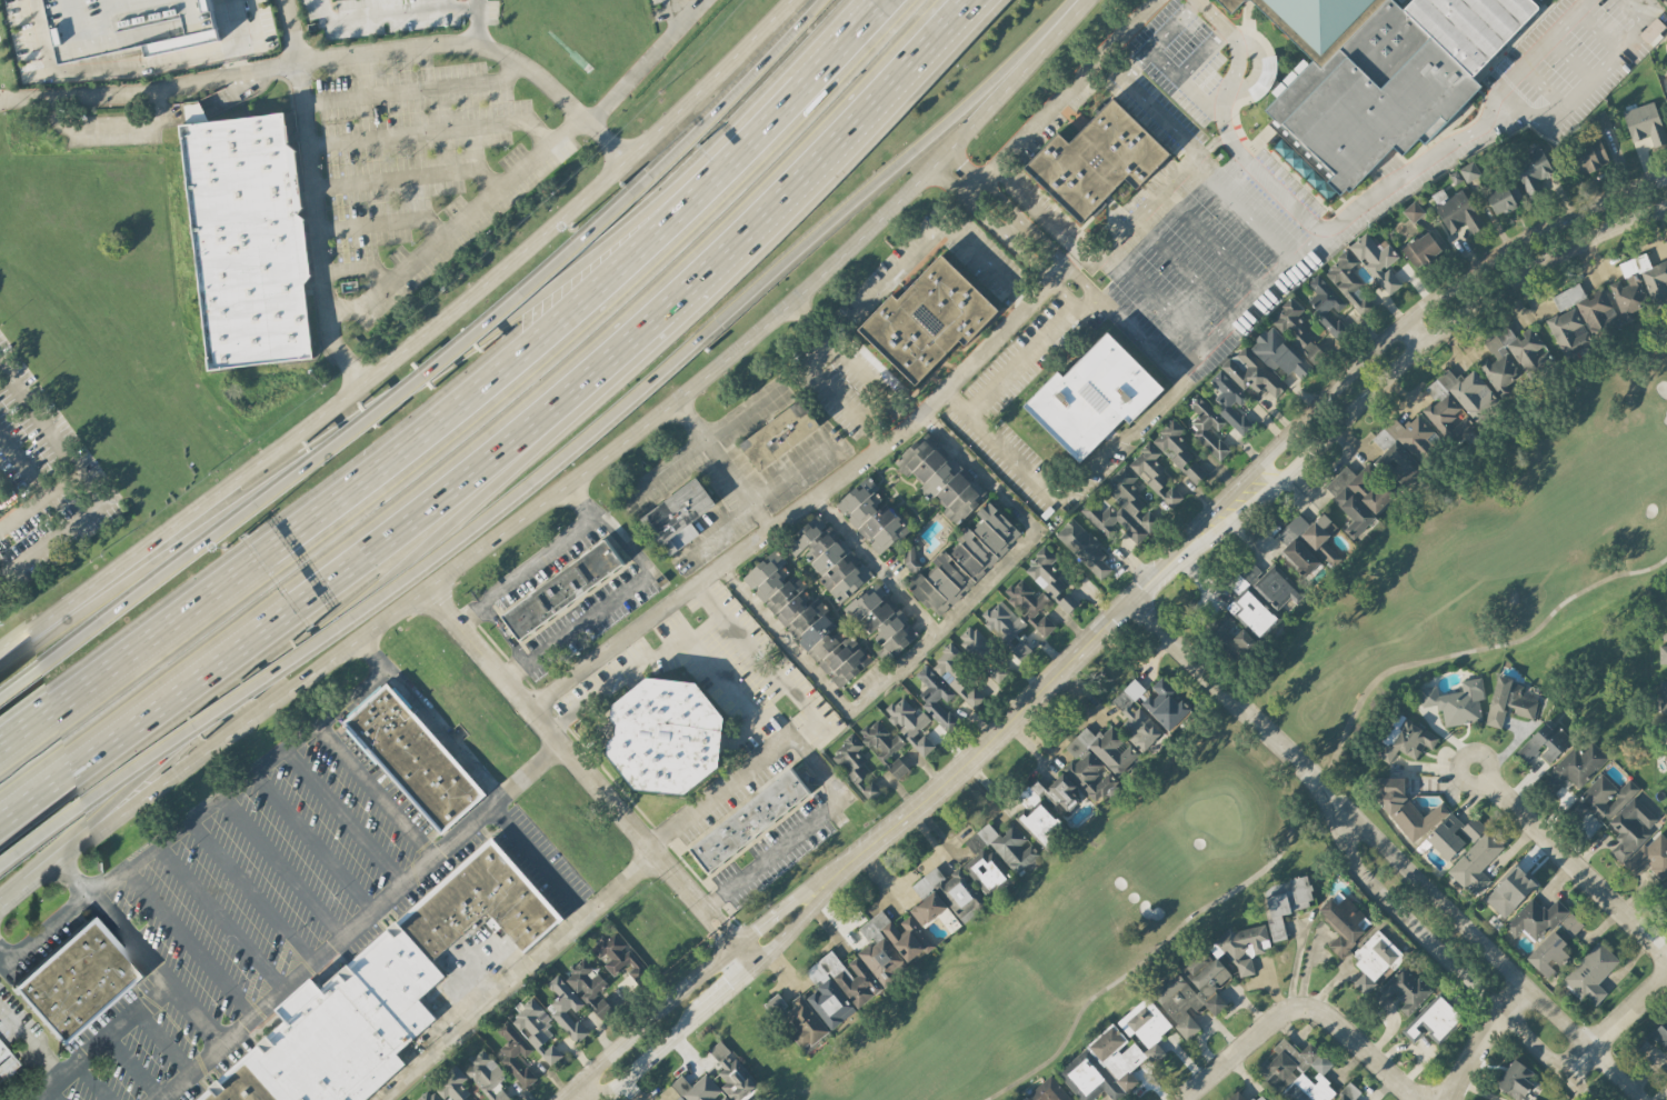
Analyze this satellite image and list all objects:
road: (476, 1)
building: (1230, 3)
road: (675, 10)
road: (393, 11)
building: (161, 22)
road: (477, 23)
building: (1653, 30)
road: (1595, 31)
road: (1158, 42)
road: (1536, 49)
road: (1199, 54)
road: (331, 57)
road: (1568, 59)
road: (230, 61)
road: (643, 61)
road: (1604, 64)
road: (132, 66)
road: (815, 66)
road: (1257, 66)
building: (1666, 67)
building: (1379, 74)
road: (738, 80)
road: (1182, 83)
road: (1539, 89)
road: (411, 90)
road: (1057, 99)
road: (211, 103)
road: (1149, 108)
building: (193, 111)
road: (670, 121)
building: (1599, 121)
building: (1645, 122)
road: (108, 126)
road: (431, 131)
building: (1589, 154)
building: (1096, 160)
building: (1469, 170)
building: (1533, 171)
building: (1455, 177)
road: (407, 178)
road: (309, 196)
building: (1504, 197)
building: (1413, 210)
building: (1456, 210)
road: (1239, 214)
road: (1047, 221)
road: (1019, 223)
road: (380, 224)
road: (456, 226)
road: (1316, 228)
building: (246, 239)
road: (1004, 240)
road: (1209, 241)
building: (1420, 248)
road: (1307, 249)
road: (912, 254)
building: (1377, 261)
road: (356, 270)
road: (1180, 270)
building: (1347, 279)
building: (1639, 284)
road: (743, 297)
road: (1154, 298)
building: (1325, 302)
building: (1588, 306)
road: (1423, 308)
building: (928, 319)
road: (498, 323)
building: (1297, 330)
building: (1568, 330)
road: (1420, 332)
road: (1137, 338)
road: (1436, 340)
road: (445, 352)
building: (1278, 353)
road: (1028, 354)
building: (1513, 354)
road: (1189, 361)
road: (382, 362)
building: (1248, 373)
road: (867, 384)
building: (1092, 396)
building: (1229, 400)
building: (1457, 401)
road: (842, 408)
building: (1207, 424)
road: (512, 434)
building: (779, 434)
road: (49, 436)
building: (1172, 442)
road: (702, 443)
road: (389, 447)
building: (1405, 447)
road: (721, 464)
road: (21, 467)
building: (1148, 467)
building: (1195, 471)
building: (940, 477)
road: (565, 481)
building: (1170, 494)
building: (1359, 496)
building: (7, 497)
road: (1061, 498)
road: (38, 500)
road: (806, 500)
road: (580, 501)
road: (751, 506)
building: (1119, 507)
building: (871, 514)
building: (676, 517)
building: (805, 534)
building: (1310, 534)
road: (50, 541)
building: (1084, 547)
park: (1487, 551)
building: (1299, 556)
building: (910, 557)
building: (965, 559)
building: (836, 563)
road: (874, 564)
building: (1045, 571)
road: (525, 572)
road: (114, 580)
building: (1265, 584)
building: (560, 589)
building: (783, 593)
building: (1067, 601)
building: (1028, 603)
road: (605, 606)
road: (349, 607)
road: (107, 610)
building: (1251, 612)
building: (1002, 620)
building: (881, 621)
building: (1664, 622)
road: (931, 636)
building: (972, 639)
building: (1242, 639)
building: (1020, 649)
building: (832, 650)
building: (1663, 653)
road: (767, 667)
road: (631, 668)
building: (997, 670)
building: (956, 674)
road: (726, 689)
road: (1224, 689)
building: (1663, 694)
building: (935, 697)
road: (1029, 698)
building: (1457, 701)
building: (1507, 701)
building: (1165, 704)
building: (1135, 716)
road: (198, 720)
road: (427, 721)
building: (910, 722)
building: (1663, 731)
building: (662, 738)
building: (1404, 739)
building: (880, 740)
building: (1544, 742)
building: (412, 759)
building: (1099, 760)
building: (1576, 764)
building: (855, 767)
building: (897, 767)
road: (587, 778)
road: (375, 791)
road: (718, 791)
building: (1049, 792)
building: (1607, 796)
road: (193, 816)
road: (343, 817)
building: (1426, 819)
building: (748, 821)
building: (1041, 823)
building: (1630, 827)
road: (803, 829)
road: (221, 839)
road: (311, 842)
building: (1650, 856)
road: (200, 857)
building: (982, 860)
road: (537, 862)
building: (1475, 862)
road: (280, 868)
road: (1575, 868)
building: (1665, 882)
building: (1509, 891)
building: (946, 898)
building: (1286, 902)
building: (476, 904)
road: (219, 917)
road: (271, 918)
road: (359, 922)
building: (1344, 922)
park: (1071, 932)
building: (1545, 932)
road: (1479, 940)
road: (189, 942)
building: (891, 943)
building: (1240, 946)
road: (1438, 952)
road: (139, 956)
road: (467, 956)
building: (619, 956)
road: (4, 959)
building: (1375, 959)
building: (1590, 972)
road: (516, 977)
building: (397, 978)
road: (683, 983)
building: (76, 984)
building: (588, 986)
building: (839, 986)
building: (1190, 989)
building: (1403, 989)
road: (718, 996)
building: (565, 1006)
road: (1295, 1008)
building: (797, 1017)
building: (1431, 1019)
road: (1614, 1020)
building: (1145, 1021)
building: (530, 1023)
building: (1660, 1032)
road: (1479, 1038)
building: (341, 1039)
road: (102, 1041)
road: (162, 1041)
road: (30, 1046)
building: (1154, 1051)
building: (515, 1052)
building: (550, 1053)
building: (7, 1063)
building: (1102, 1066)
road: (132, 1069)
building: (1298, 1071)
building: (731, 1072)
building: (278, 1073)
building: (487, 1076)
building: (1515, 1078)
road: (91, 1082)
building: (452, 1086)
building: (241, 1087)
building: (698, 1089)
building: (1047, 1091)
building: (1348, 1092)
road: (573, 1093)
building: (428, 1094)
road: (51, 1096)
building: (210, 1097)
building: (1236, 1097)
building: (1259, 1097)

